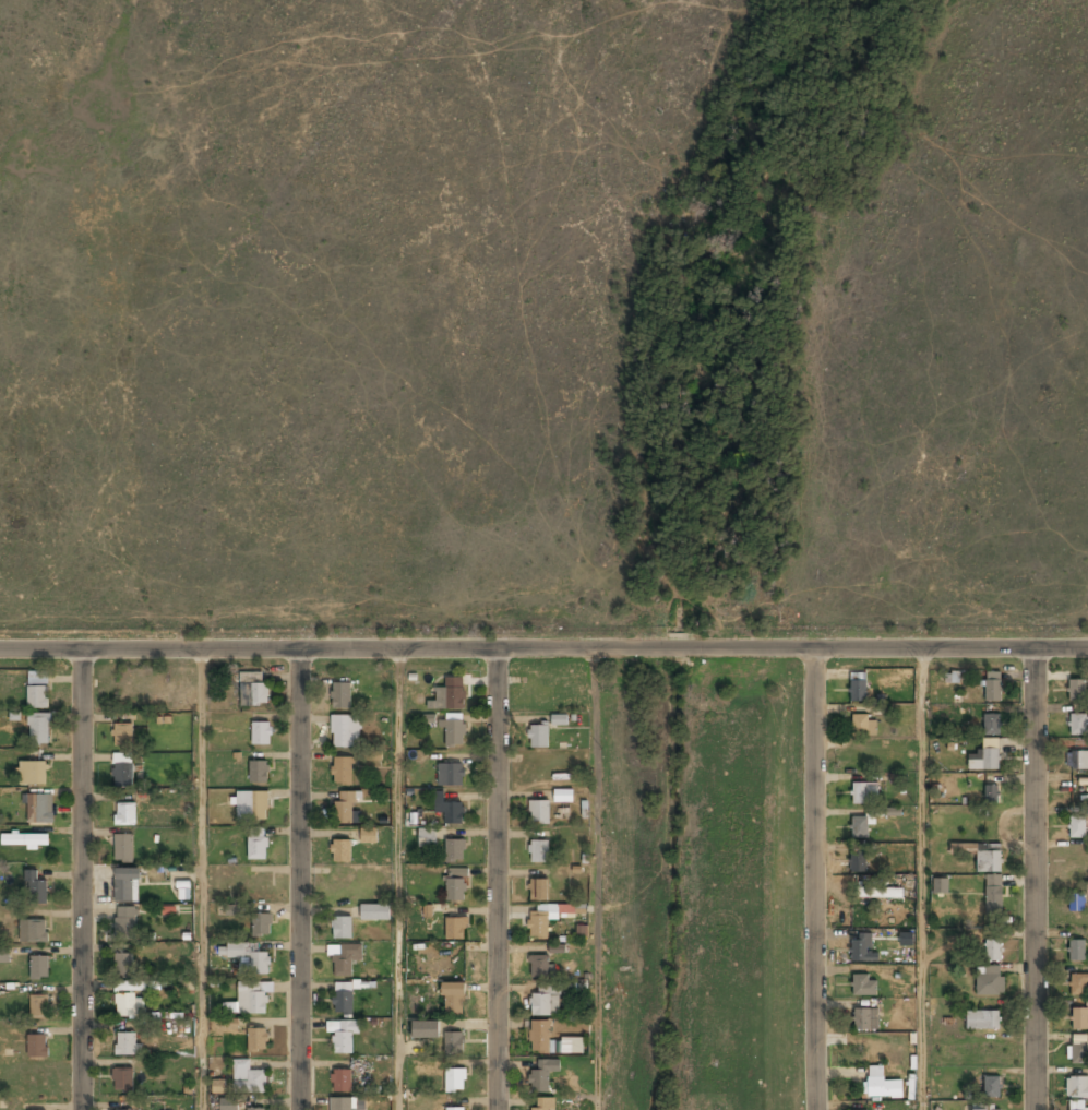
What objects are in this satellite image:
road: (407, 648)
road: (950, 648)
building: (37, 677)
building: (992, 687)
building: (857, 688)
building: (253, 689)
building: (1076, 691)
building: (449, 695)
building: (340, 696)
building: (37, 697)
building: (863, 726)
building: (992, 726)
building: (1077, 726)
building: (39, 731)
building: (346, 731)
building: (454, 732)
building: (261, 733)
building: (122, 735)
building: (537, 737)
building: (372, 754)
building: (985, 761)
building: (1077, 761)
building: (342, 772)
building: (32, 773)
building: (259, 773)
building: (123, 775)
building: (451, 775)
building: (864, 793)
building: (991, 793)
building: (563, 796)
building: (251, 808)
building: (344, 808)
building: (36, 809)
building: (449, 811)
building: (539, 811)
building: (125, 814)
building: (859, 827)
building: (1077, 827)
building: (369, 836)
building: (427, 838)
building: (25, 840)
building: (256, 844)
building: (123, 849)
building: (538, 850)
building: (454, 851)
building: (340, 852)
building: (981, 855)
building: (858, 862)
road: (494, 879)
road: (1035, 879)
road: (81, 880)
road: (202, 880)
road: (298, 880)
road: (399, 880)
road: (595, 880)
road: (814, 880)
road: (922, 880)
building: (455, 885)
building: (940, 885)
building: (125, 886)
building: (35, 888)
building: (538, 888)
building: (881, 893)
building: (994, 896)
building: (1076, 903)
building: (235, 909)
building: (374, 914)
building: (125, 923)
building: (261, 926)
building: (538, 928)
building: (342, 929)
building: (455, 929)
building: (33, 930)
building: (557, 948)
building: (862, 948)
building: (993, 951)
building: (1075, 951)
building: (3, 956)
building: (249, 958)
building: (344, 959)
building: (123, 964)
building: (39, 967)
building: (538, 967)
building: (989, 982)
building: (1079, 984)
building: (131, 987)
building: (861, 987)
building: (453, 999)
building: (250, 1000)
building: (545, 1001)
building: (343, 1003)
building: (39, 1005)
building: (127, 1005)
building: (864, 1019)
building: (1079, 1019)
building: (982, 1021)
building: (230, 1024)
building: (425, 1030)
building: (343, 1036)
building: (539, 1037)
building: (256, 1040)
building: (453, 1043)
building: (127, 1045)
building: (37, 1047)
building: (1078, 1052)
building: (542, 1076)
building: (122, 1079)
building: (249, 1079)
building: (454, 1081)
building: (340, 1082)
building: (881, 1084)
building: (1077, 1087)
building: (992, 1088)
building: (342, 1105)
building: (543, 1105)
building: (225, 1106)
building: (1078, 1106)
building: (987, 1108)
building: (255, 1109)
building: (455, 1109)

